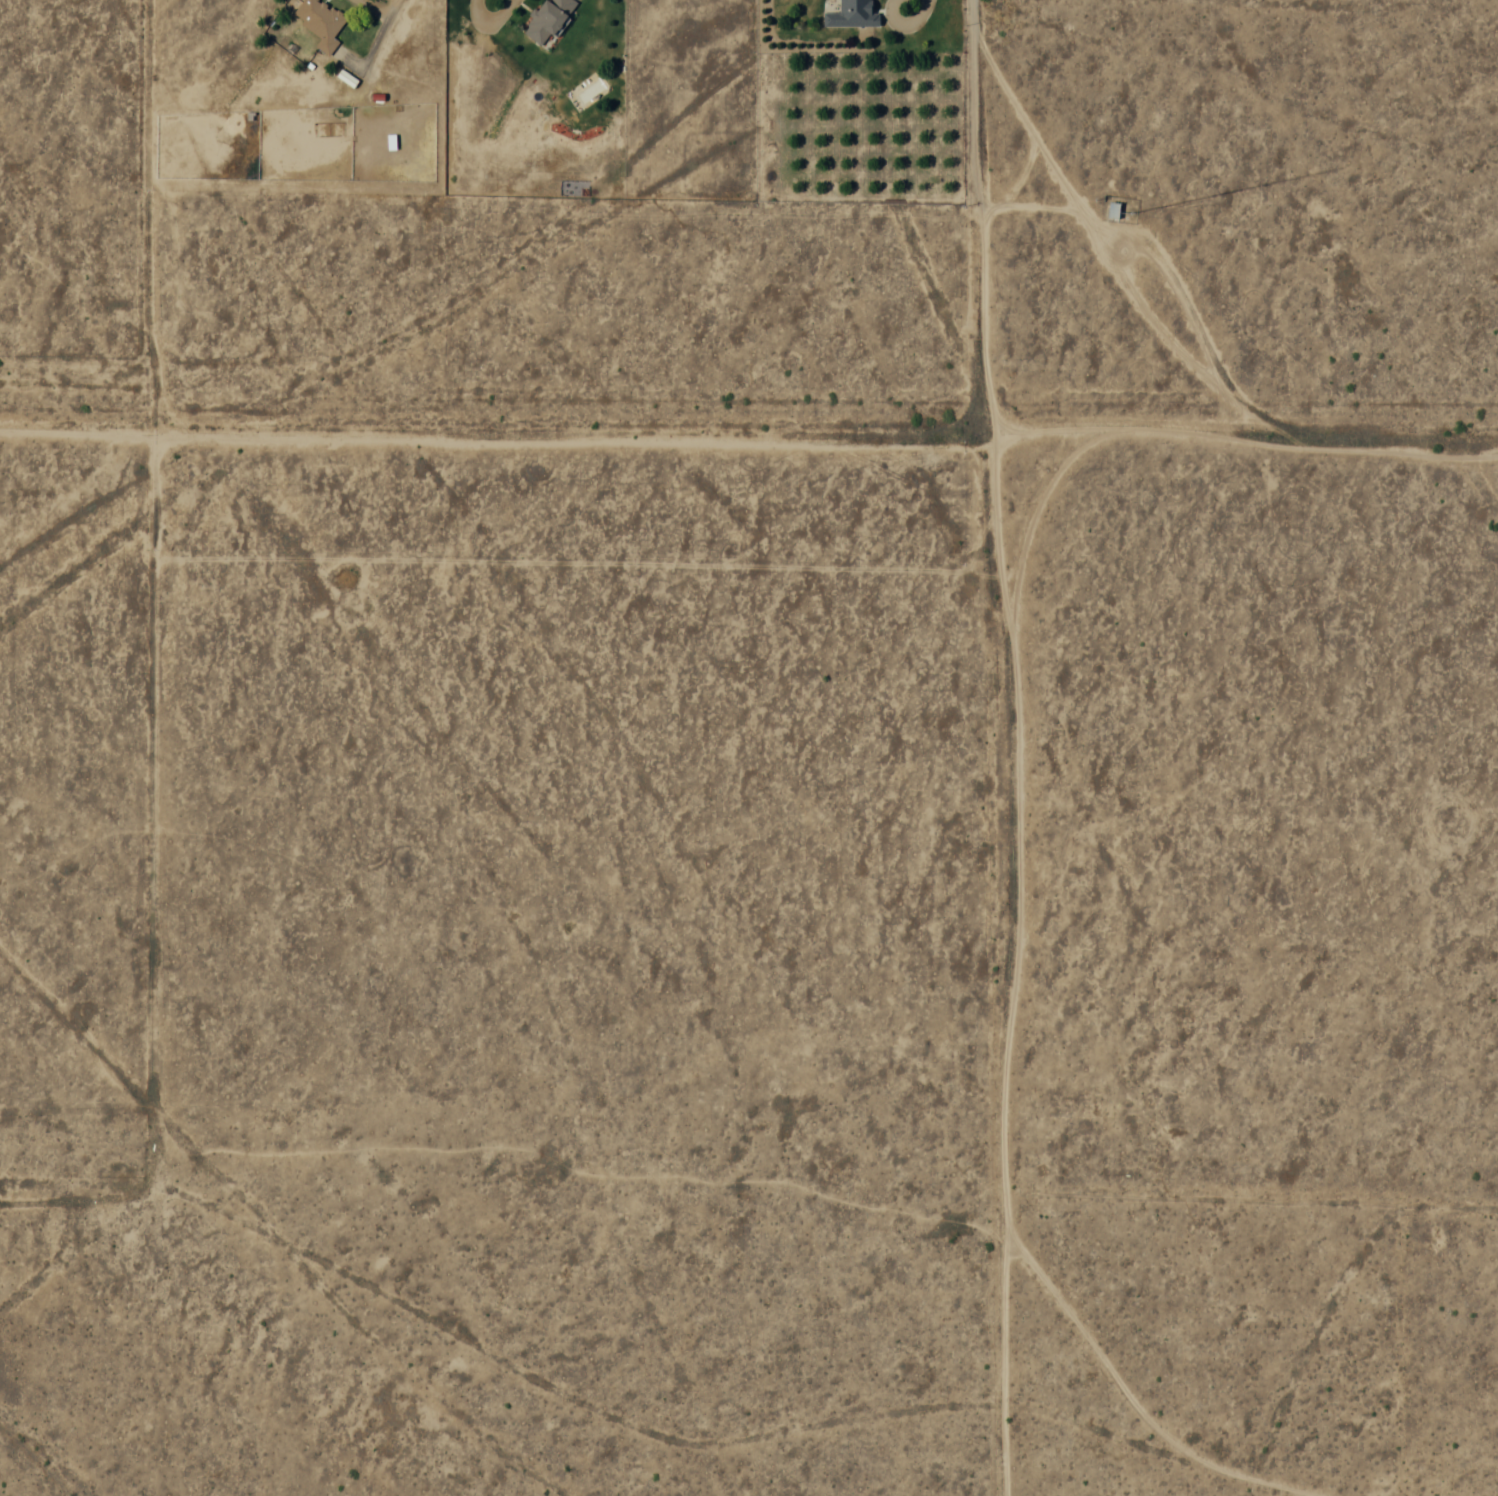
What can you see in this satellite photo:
building: (852, 14)
building: (547, 20)
building: (320, 22)
road: (1020, 118)
road: (1025, 204)
building: (1112, 210)
road: (150, 217)
road: (1086, 225)
road: (1180, 291)
road: (1181, 355)
road: (1143, 426)
road: (78, 432)
road: (574, 441)
road: (1396, 450)
road: (1038, 504)
road: (1014, 747)
road: (149, 817)
road: (570, 1397)

